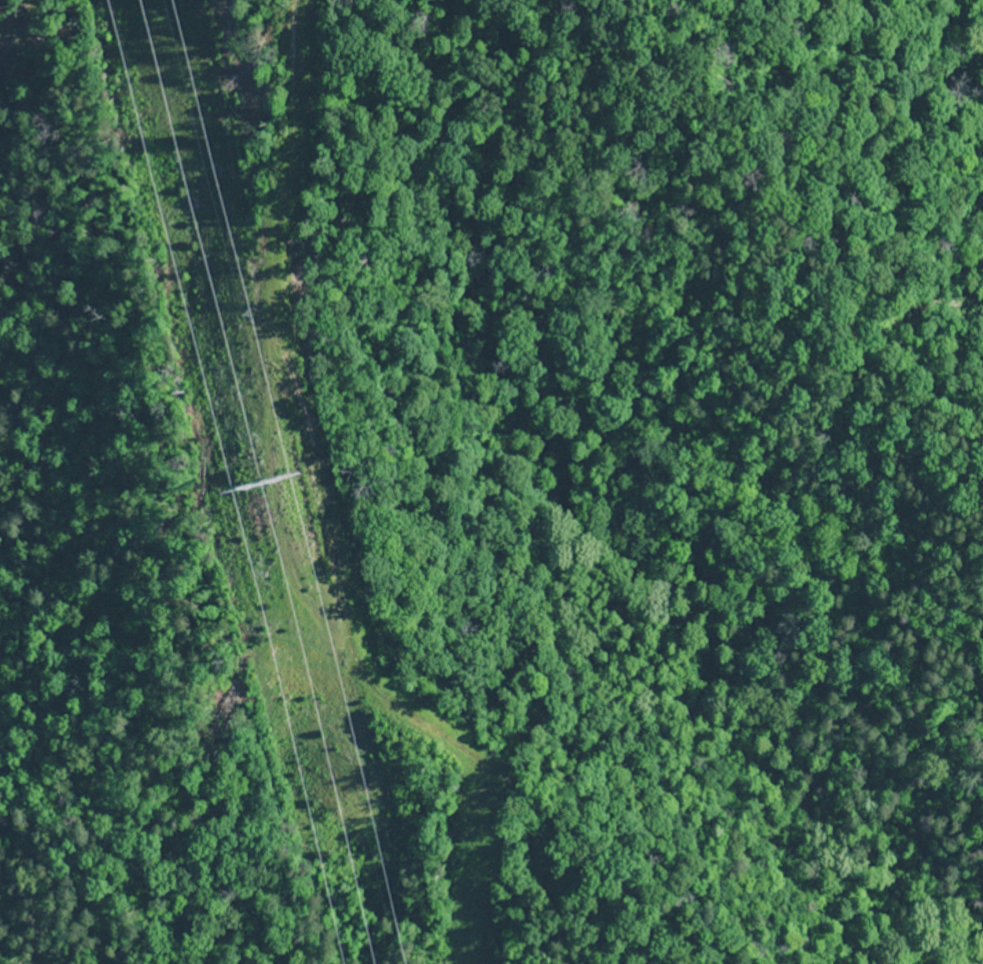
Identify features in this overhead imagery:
power tower: (265, 505)

